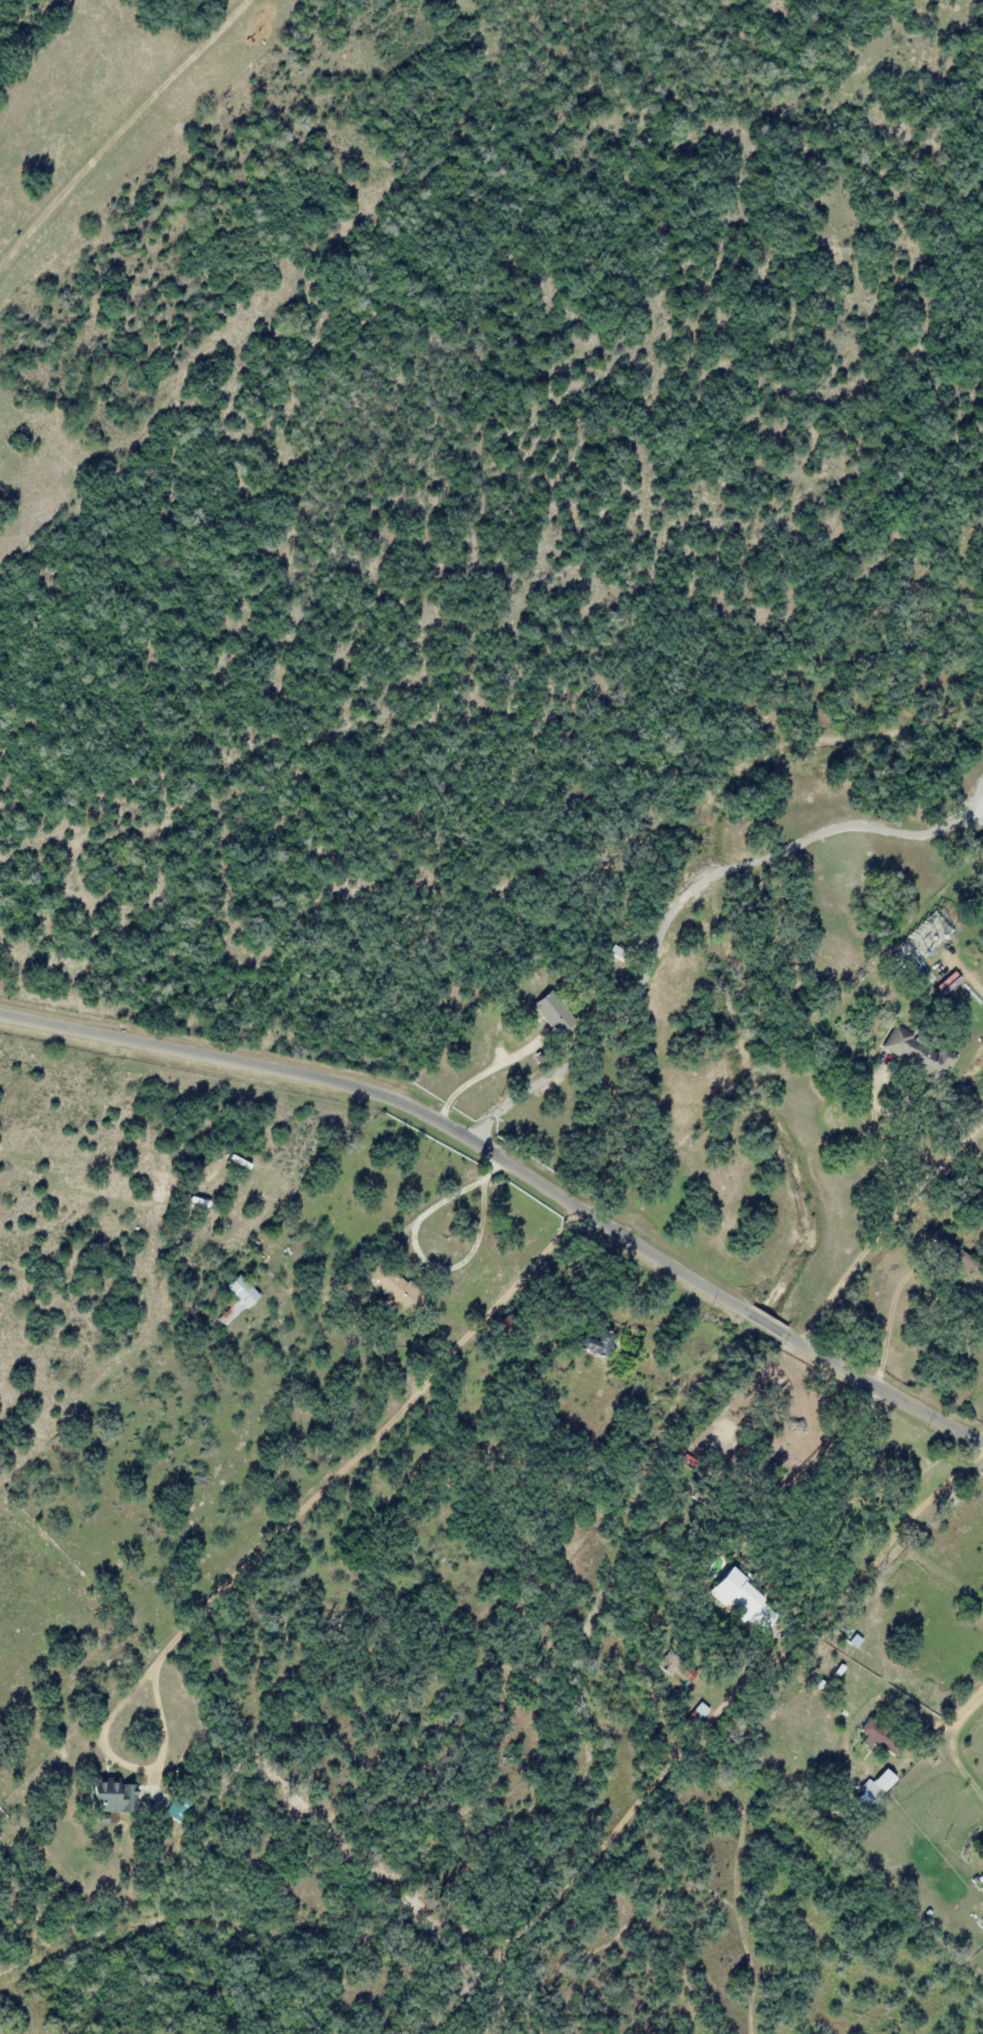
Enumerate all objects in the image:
road: (120, 127)
road: (683, 896)
building: (916, 952)
building: (554, 1012)
building: (917, 1052)
building: (235, 1163)
road: (513, 1168)
building: (248, 1190)
building: (204, 1208)
building: (260, 1237)
building: (939, 1237)
building: (285, 1250)
building: (391, 1287)
building: (237, 1298)
building: (591, 1343)
road: (892, 1542)
building: (756, 1604)
building: (855, 1642)
building: (698, 1712)
road: (964, 1715)
building: (880, 1737)
road: (847, 1743)
building: (867, 1793)
building: (113, 1795)
building: (176, 1809)
building: (102, 1818)
building: (981, 1879)

